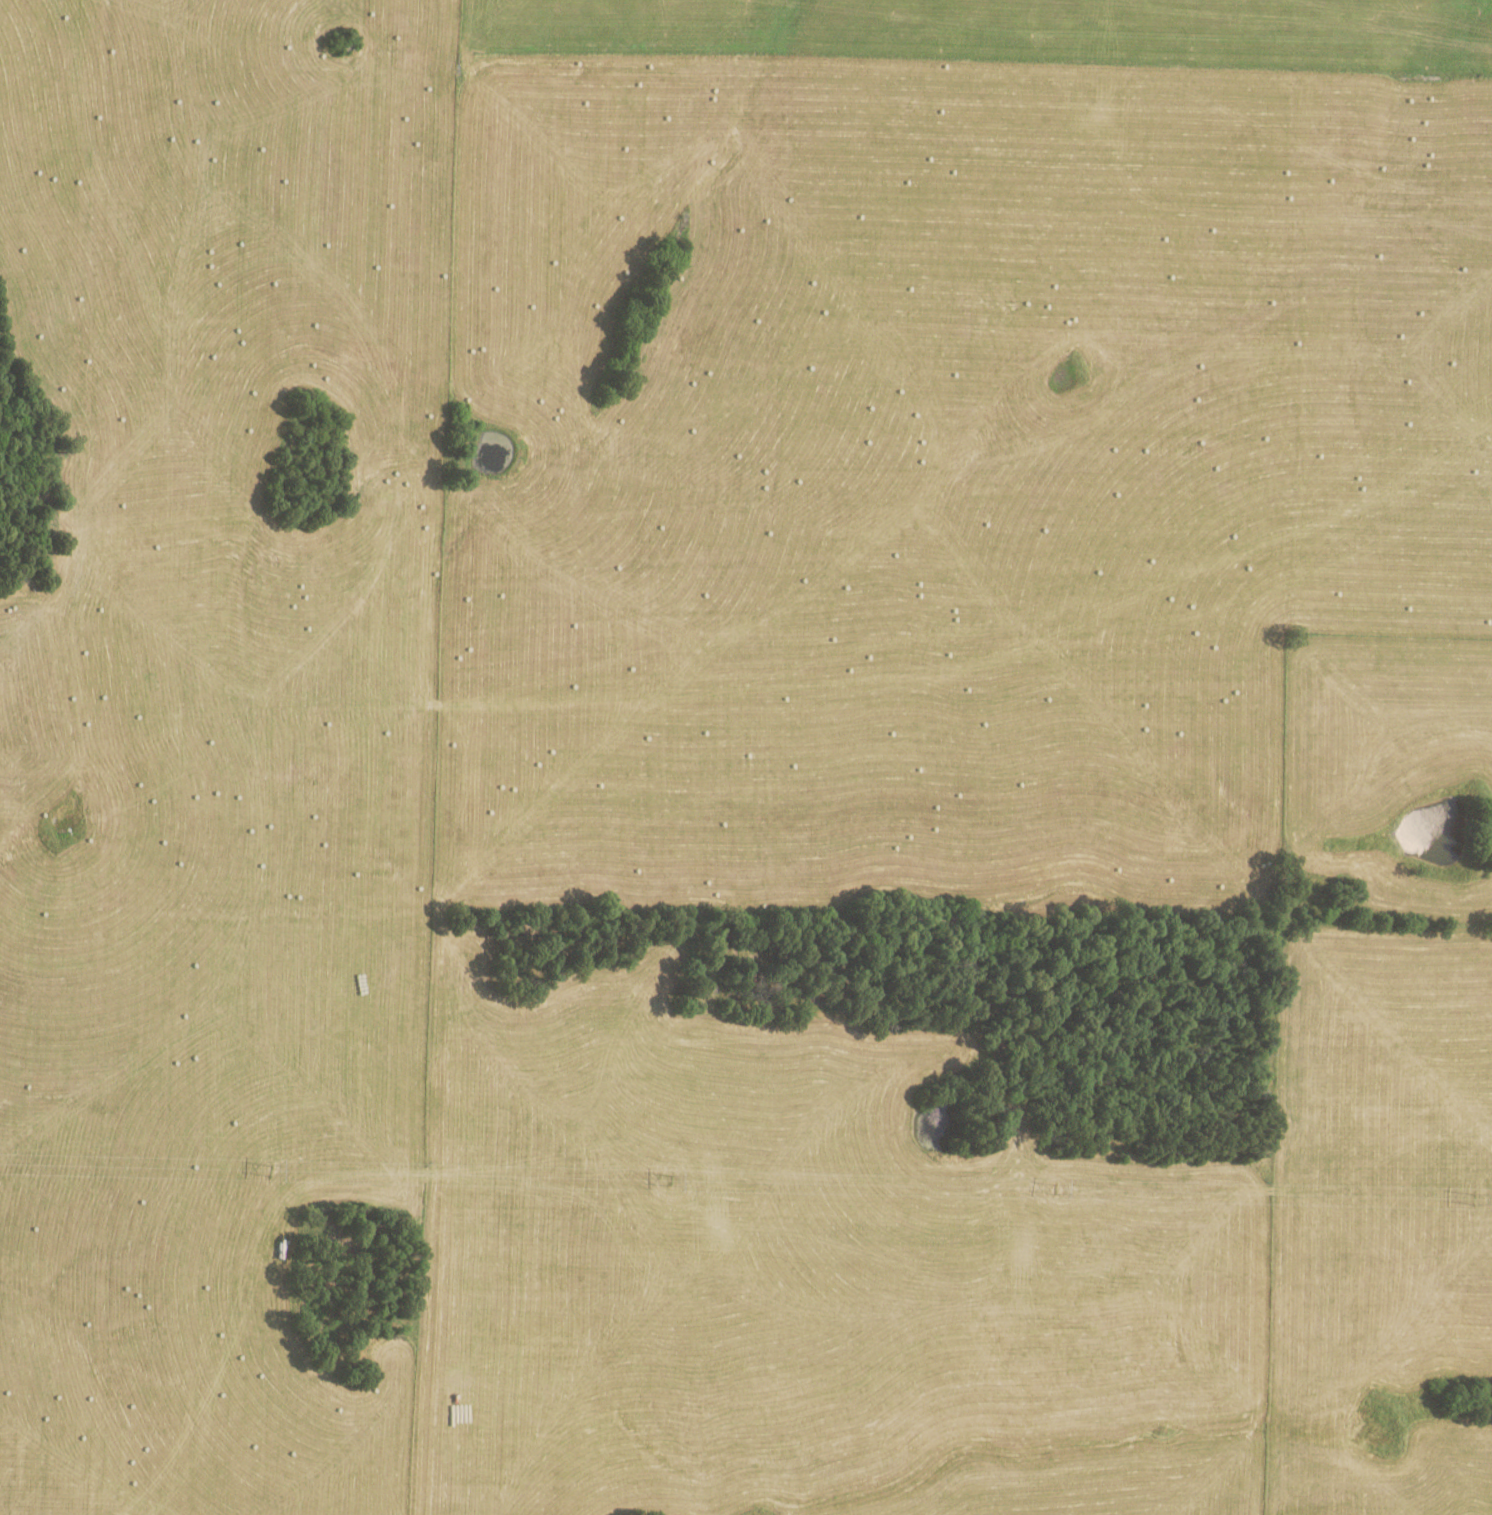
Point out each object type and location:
power tower: (1053, 1189)
power tower: (1472, 1201)

